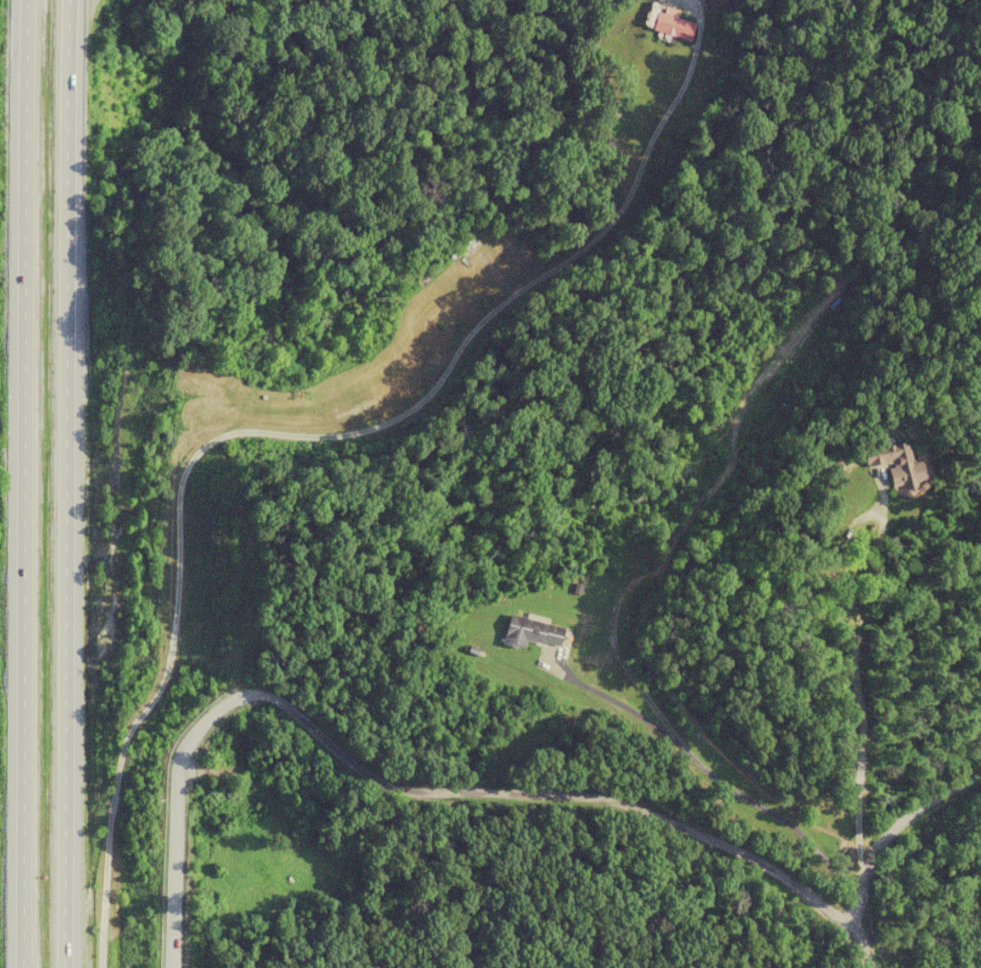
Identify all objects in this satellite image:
building: (672, 24)
road: (263, 436)
building: (898, 464)
road: (21, 483)
road: (67, 483)
building: (530, 632)
road: (417, 797)

